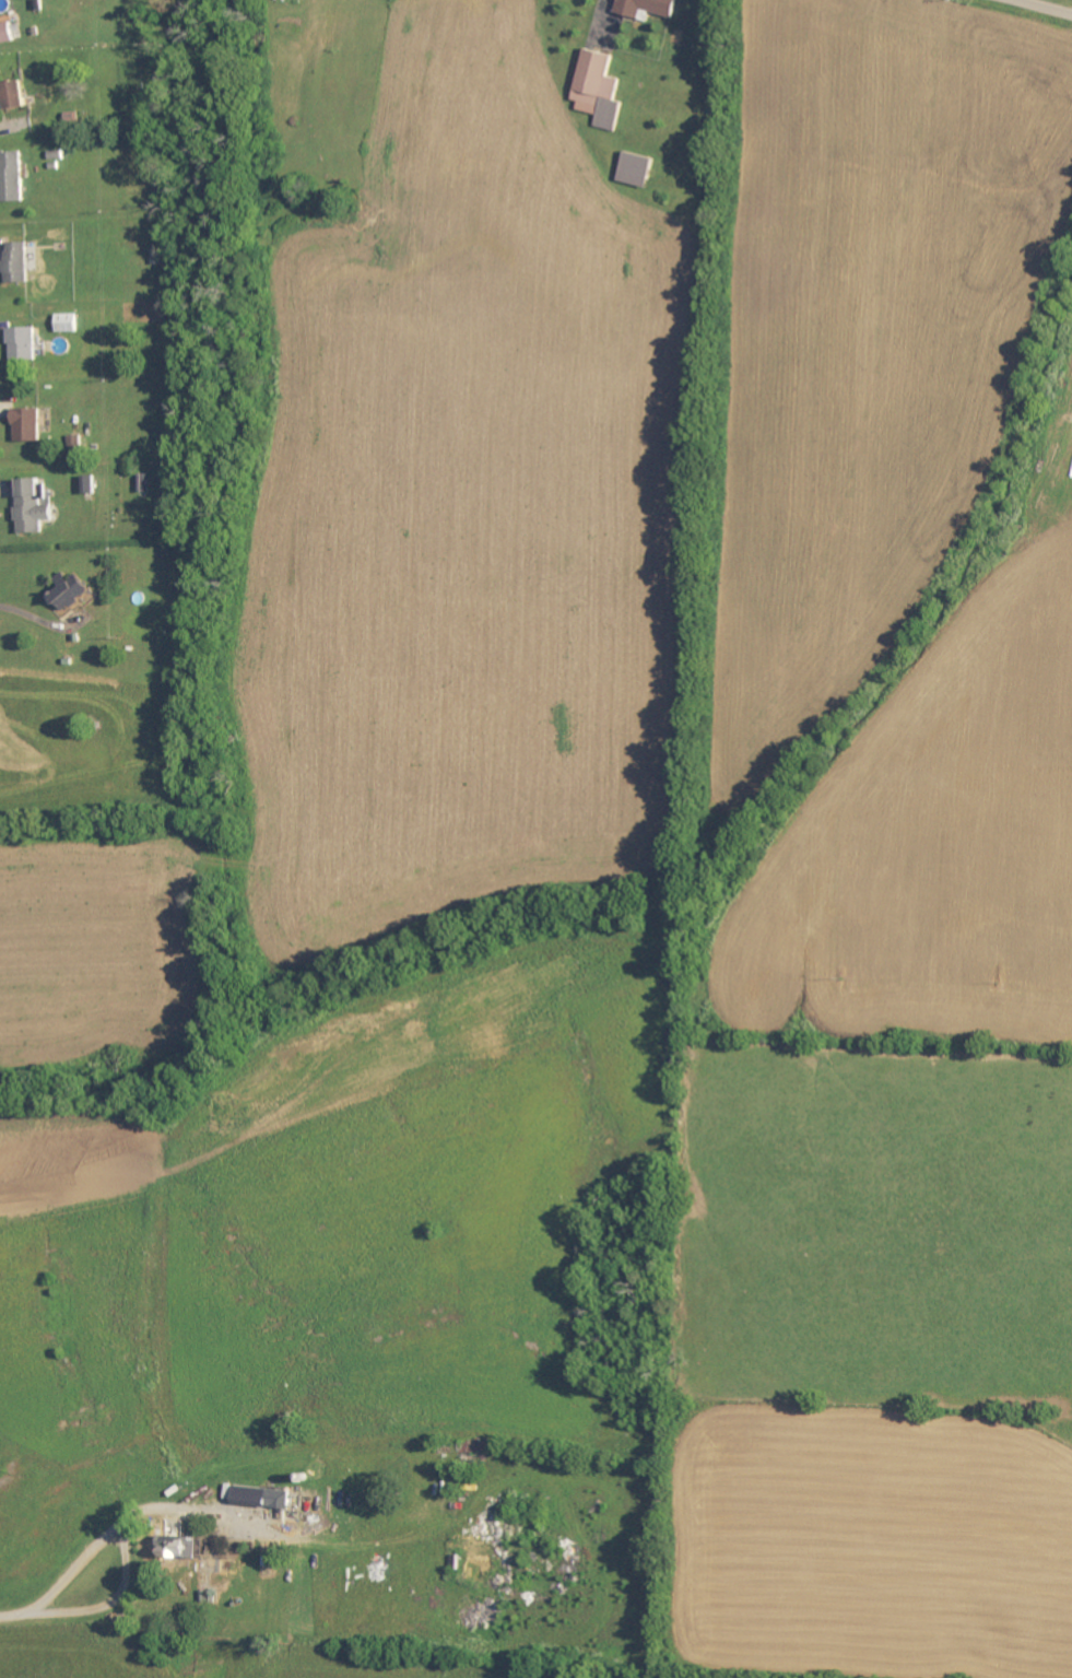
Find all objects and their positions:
road: (1052, 4)
building: (650, 8)
building: (8, 34)
building: (601, 91)
building: (20, 96)
building: (640, 171)
building: (15, 177)
building: (22, 263)
building: (71, 324)
building: (26, 345)
building: (32, 425)
building: (80, 444)
building: (36, 508)
building: (74, 592)
building: (266, 1499)
building: (184, 1548)
road: (95, 1549)

